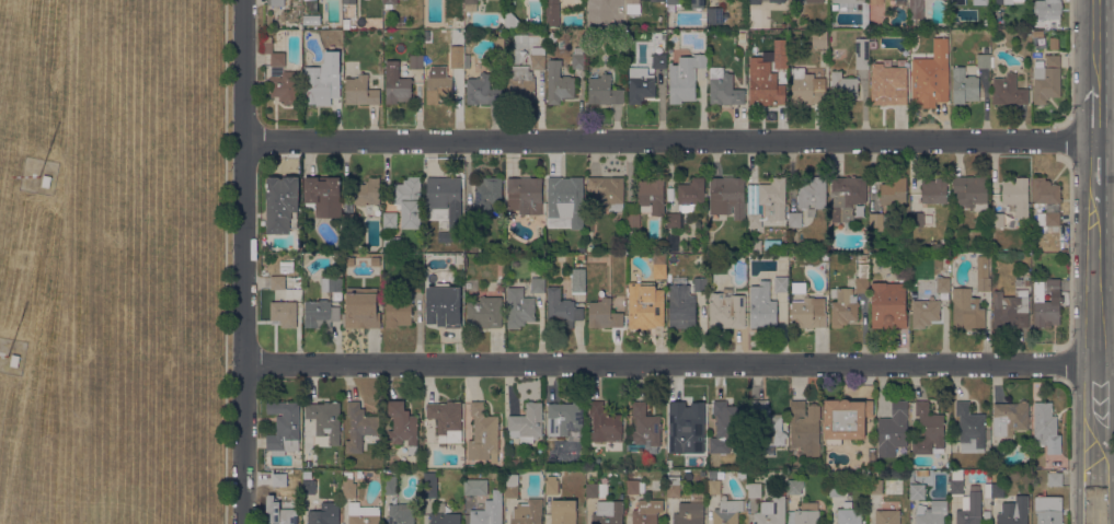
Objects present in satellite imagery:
building: (349, 1)
building: (390, 1)
building: (657, 1)
building: (754, 1)
building: (776, 1)
building: (795, 1)
building: (875, 1)
building: (957, 1)
building: (998, 1)
building: (276, 2)
building: (980, 2)
building: (674, 4)
building: (698, 4)
building: (312, 5)
building: (471, 5)
building: (633, 7)
building: (917, 9)
building: (1047, 9)
building: (552, 13)
building: (715, 15)
building: (311, 19)
building: (512, 21)
building: (613, 21)
building: (346, 23)
building: (986, 23)
building: (978, 25)
building: (532, 32)
building: (1037, 33)
building: (742, 35)
building: (819, 39)
building: (501, 43)
road: (1099, 47)
building: (456, 48)
building: (274, 53)
building: (838, 53)
building: (862, 54)
building: (1037, 54)
building: (538, 58)
building: (781, 59)
building: (467, 60)
building: (512, 60)
building: (578, 60)
building: (984, 60)
building: (415, 61)
building: (659, 61)
building: (992, 61)
building: (931, 77)
building: (685, 78)
building: (1046, 79)
building: (323, 80)
building: (437, 82)
building: (762, 82)
building: (559, 83)
building: (397, 84)
building: (520, 84)
building: (640, 84)
building: (888, 84)
building: (285, 86)
building: (964, 86)
building: (724, 88)
building: (805, 88)
building: (842, 88)
building: (360, 91)
building: (482, 91)
building: (604, 91)
building: (1009, 91)
road: (662, 105)
road: (1098, 119)
road: (372, 123)
road: (494, 123)
road: (678, 142)
road: (1098, 165)
building: (44, 183)
building: (934, 190)
building: (367, 191)
building: (608, 191)
building: (894, 191)
building: (1046, 191)
building: (813, 193)
building: (971, 193)
building: (324, 195)
building: (487, 195)
building: (525, 195)
building: (727, 196)
building: (846, 196)
building: (687, 199)
building: (1013, 200)
building: (409, 201)
building: (646, 201)
building: (766, 201)
building: (447, 203)
building: (567, 203)
building: (283, 205)
building: (673, 208)
building: (917, 219)
building: (1048, 219)
building: (390, 220)
building: (471, 220)
building: (795, 220)
building: (880, 220)
building: (349, 221)
building: (671, 242)
building: (987, 242)
building: (772, 244)
building: (755, 246)
building: (914, 248)
building: (581, 256)
building: (825, 256)
building: (1036, 257)
building: (945, 258)
road: (225, 261)
road: (244, 261)
building: (349, 261)
building: (376, 261)
building: (659, 266)
building: (779, 266)
building: (702, 273)
building: (983, 273)
road: (1096, 275)
building: (862, 278)
building: (578, 280)
building: (943, 281)
building: (1026, 281)
building: (277, 282)
road: (257, 283)
building: (332, 283)
building: (699, 283)
building: (416, 284)
building: (781, 284)
building: (538, 286)
building: (1053, 286)
building: (501, 287)
building: (799, 288)
building: (444, 305)
building: (645, 305)
building: (762, 305)
building: (888, 305)
building: (681, 306)
building: (363, 307)
building: (519, 307)
building: (843, 307)
building: (1045, 307)
building: (1011, 308)
building: (562, 310)
building: (727, 310)
building: (967, 310)
building: (485, 312)
building: (808, 312)
building: (284, 313)
building: (320, 313)
building: (399, 313)
building: (924, 313)
building: (604, 314)
building: (12, 362)
road: (670, 362)
building: (1036, 385)
road: (1096, 385)
building: (1010, 418)
building: (845, 419)
building: (565, 420)
building: (446, 421)
building: (730, 421)
building: (325, 422)
building: (528, 422)
building: (605, 423)
building: (767, 424)
building: (403, 426)
building: (359, 427)
building: (686, 427)
building: (285, 428)
building: (1046, 428)
building: (804, 429)
building: (969, 429)
building: (645, 430)
building: (893, 430)
building: (929, 431)
building: (483, 434)
building: (514, 463)
building: (470, 466)
road: (1098, 466)
building: (279, 479)
building: (1054, 479)
building: (956, 481)
building: (389, 485)
building: (430, 485)
building: (552, 485)
building: (348, 486)
building: (512, 486)
building: (795, 486)
building: (308, 487)
building: (475, 487)
building: (634, 487)
building: (674, 487)
building: (712, 487)
building: (875, 487)
building: (836, 488)
road: (1105, 489)
building: (596, 490)
building: (754, 490)
building: (997, 490)
building: (917, 491)
building: (969, 506)
building: (1048, 510)
building: (646, 511)
building: (1013, 511)
building: (279, 512)
building: (528, 512)
building: (563, 512)
building: (608, 512)
building: (727, 512)
building: (771, 512)
building: (482, 513)
building: (689, 513)
building: (931, 513)
building: (324, 514)
building: (363, 514)
building: (401, 514)
building: (805, 514)
building: (849, 514)
building: (444, 515)
building: (987, 515)
building: (887, 516)

